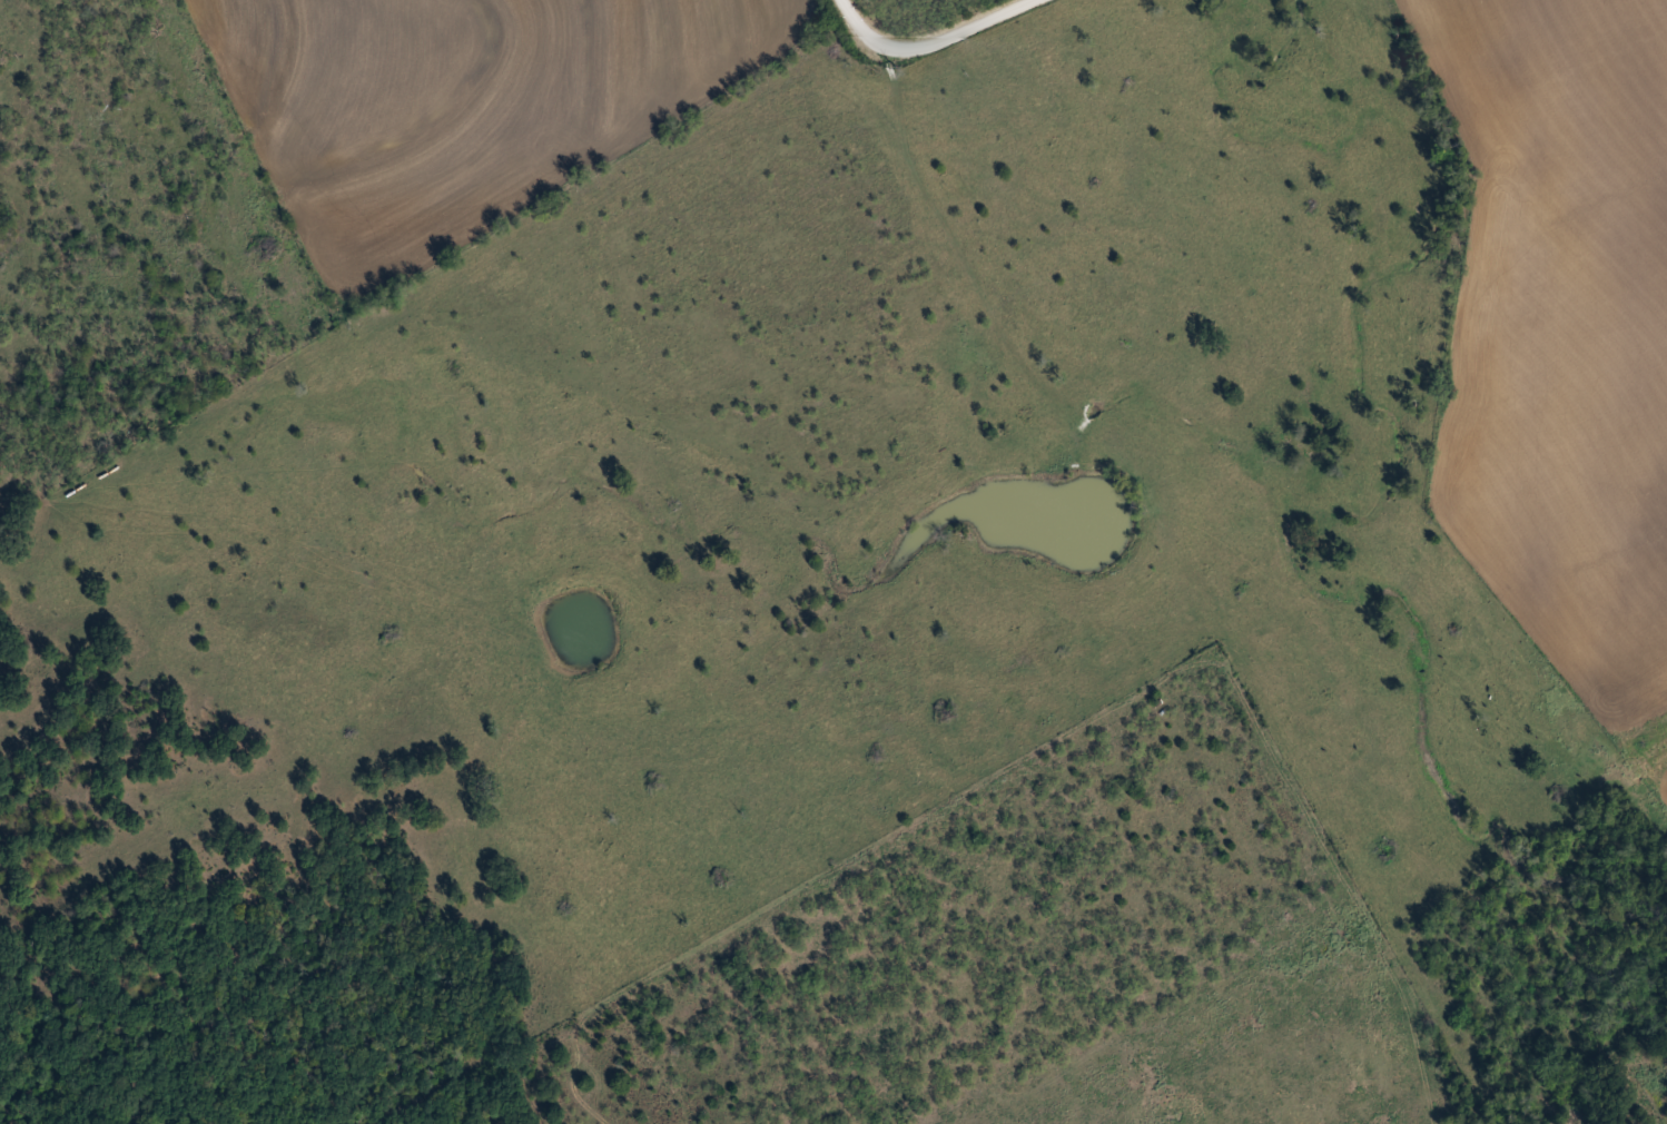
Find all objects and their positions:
road: (921, 39)

